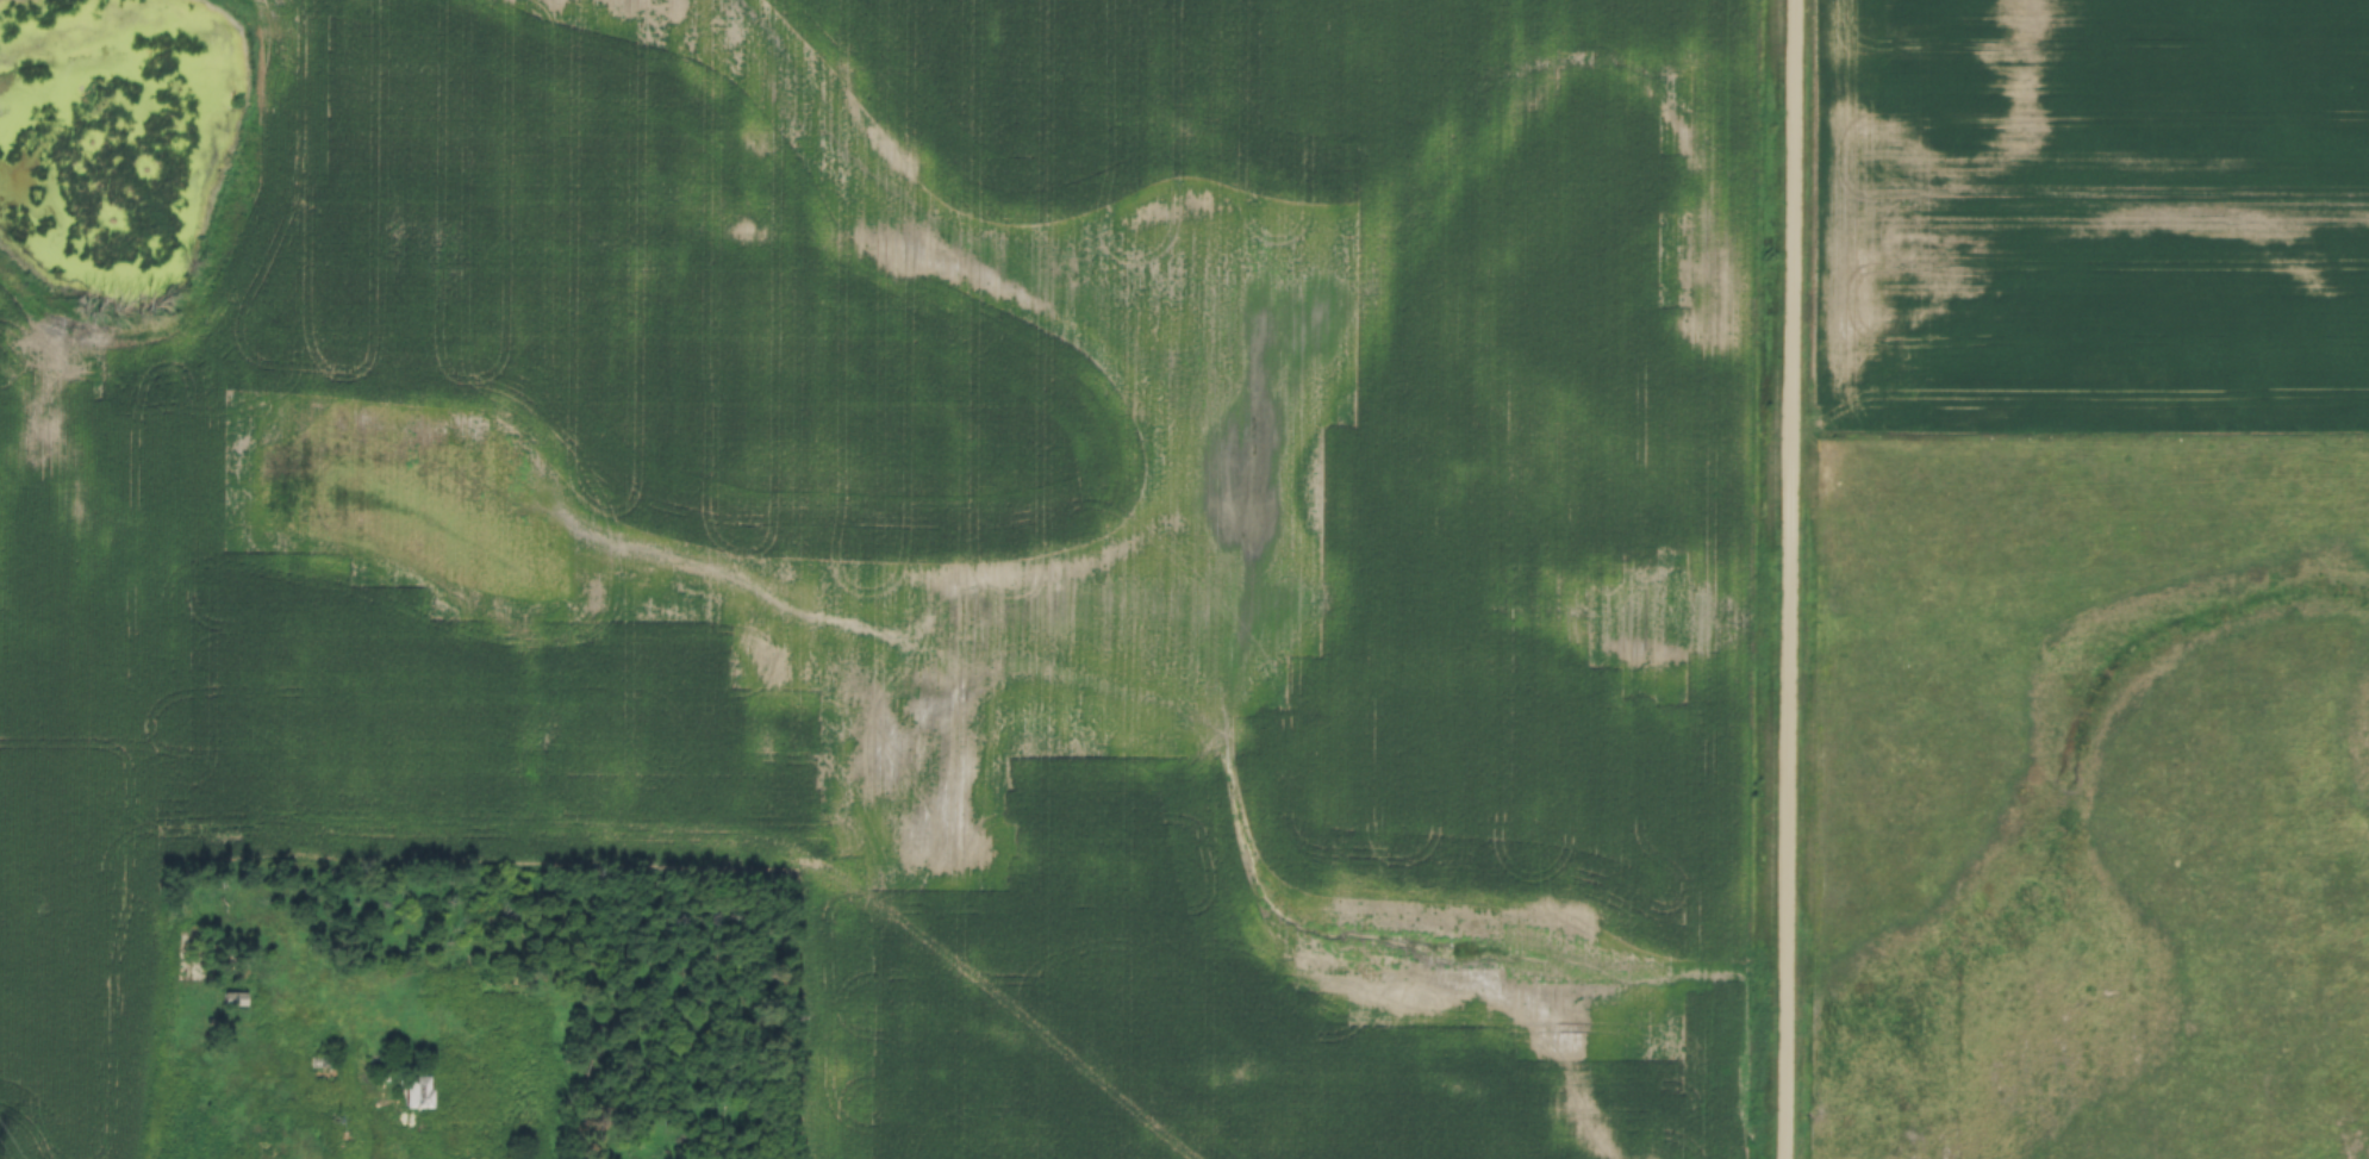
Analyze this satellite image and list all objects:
road: (1783, 579)
building: (229, 1001)
building: (407, 1092)
building: (526, 1147)

